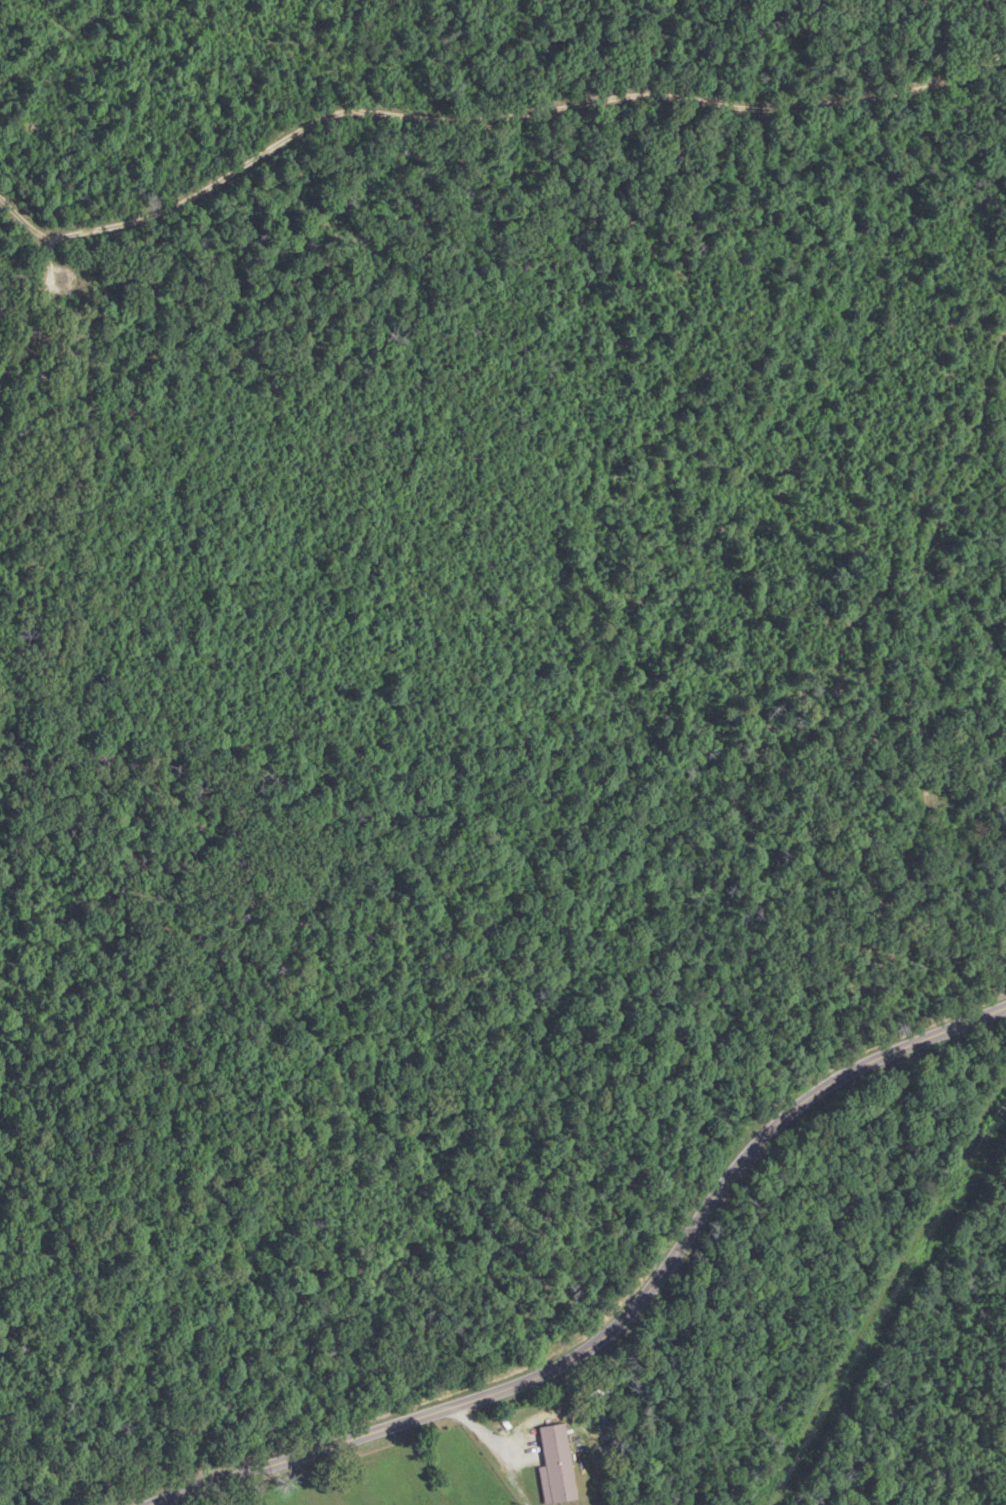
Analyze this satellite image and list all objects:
road: (488, 120)
road: (38, 316)
road: (614, 1322)
road: (612, 1418)
building: (555, 1466)

